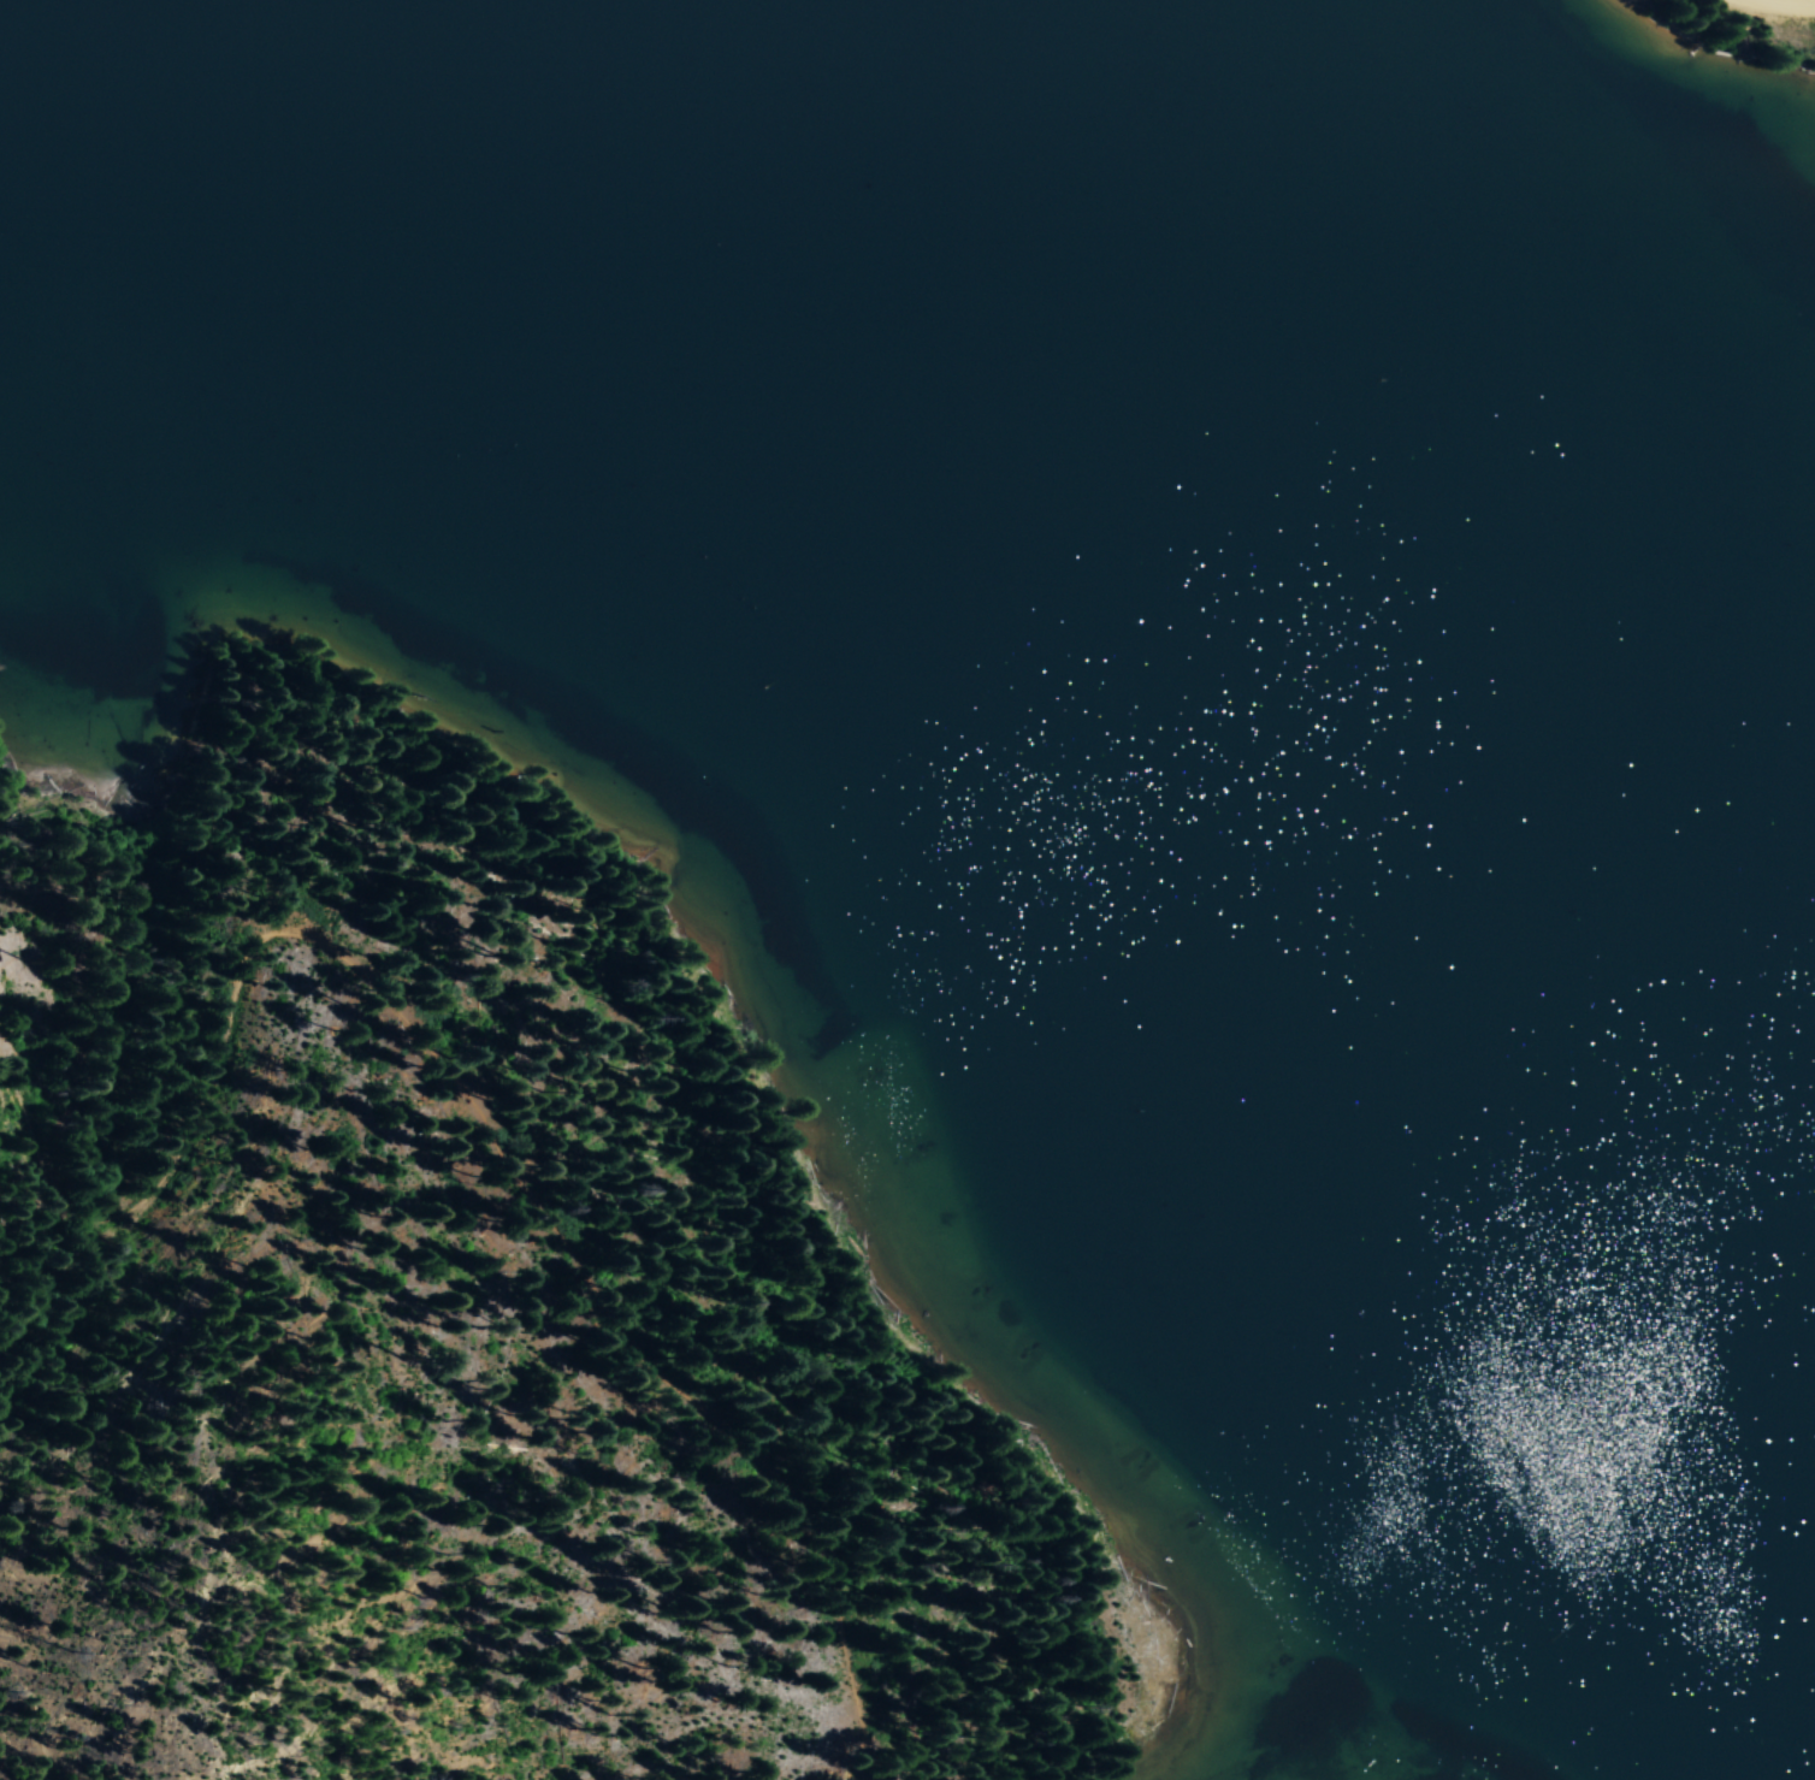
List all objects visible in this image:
road: (1810, 0)
road: (460, 1118)

